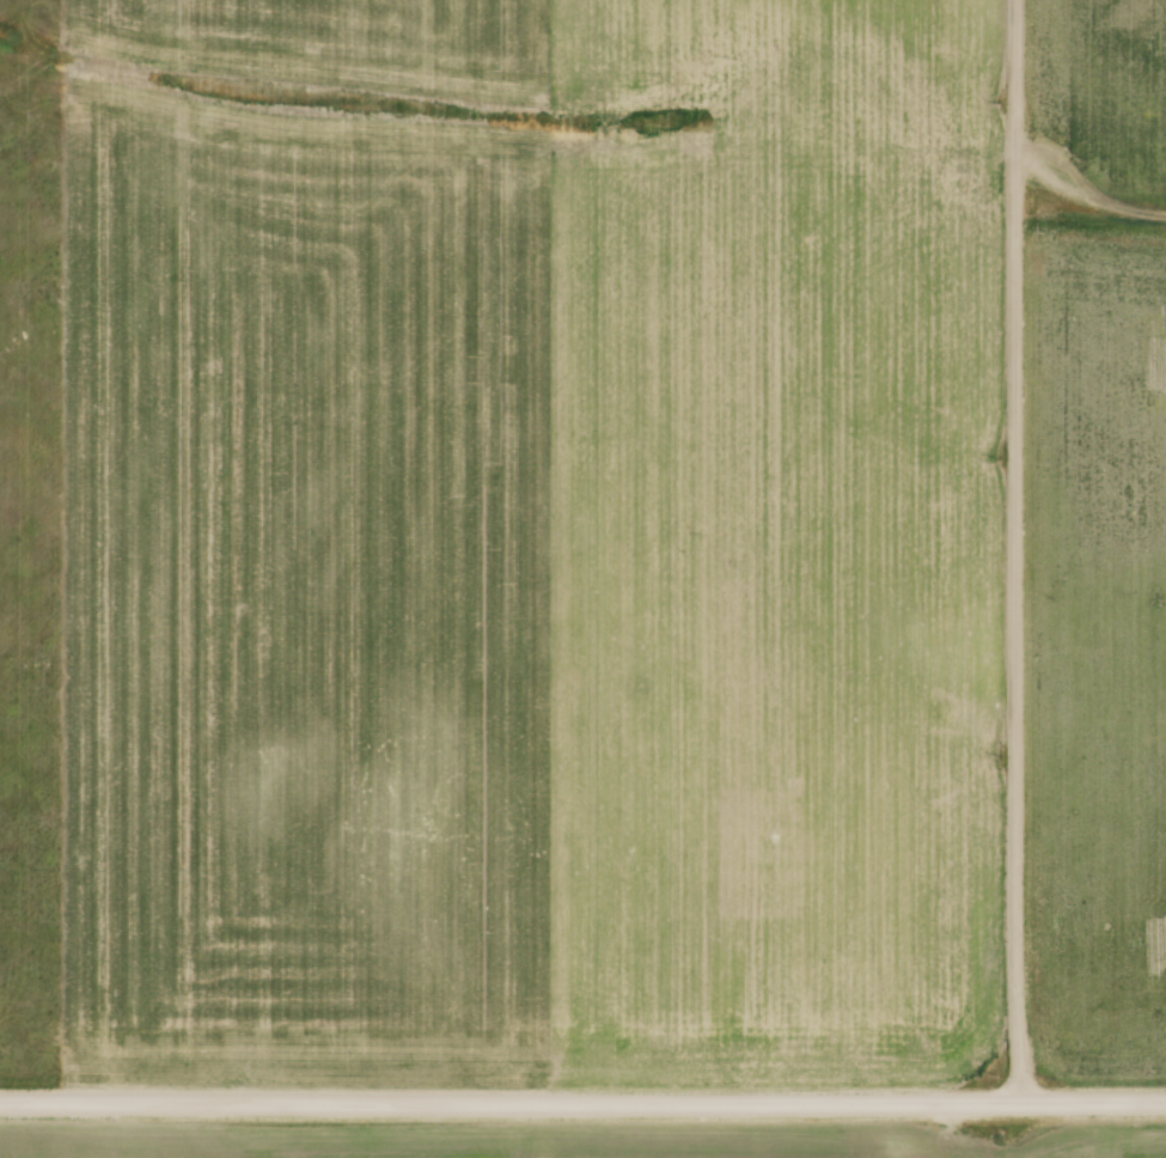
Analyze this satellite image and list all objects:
road: (1013, 550)
road: (582, 1101)

